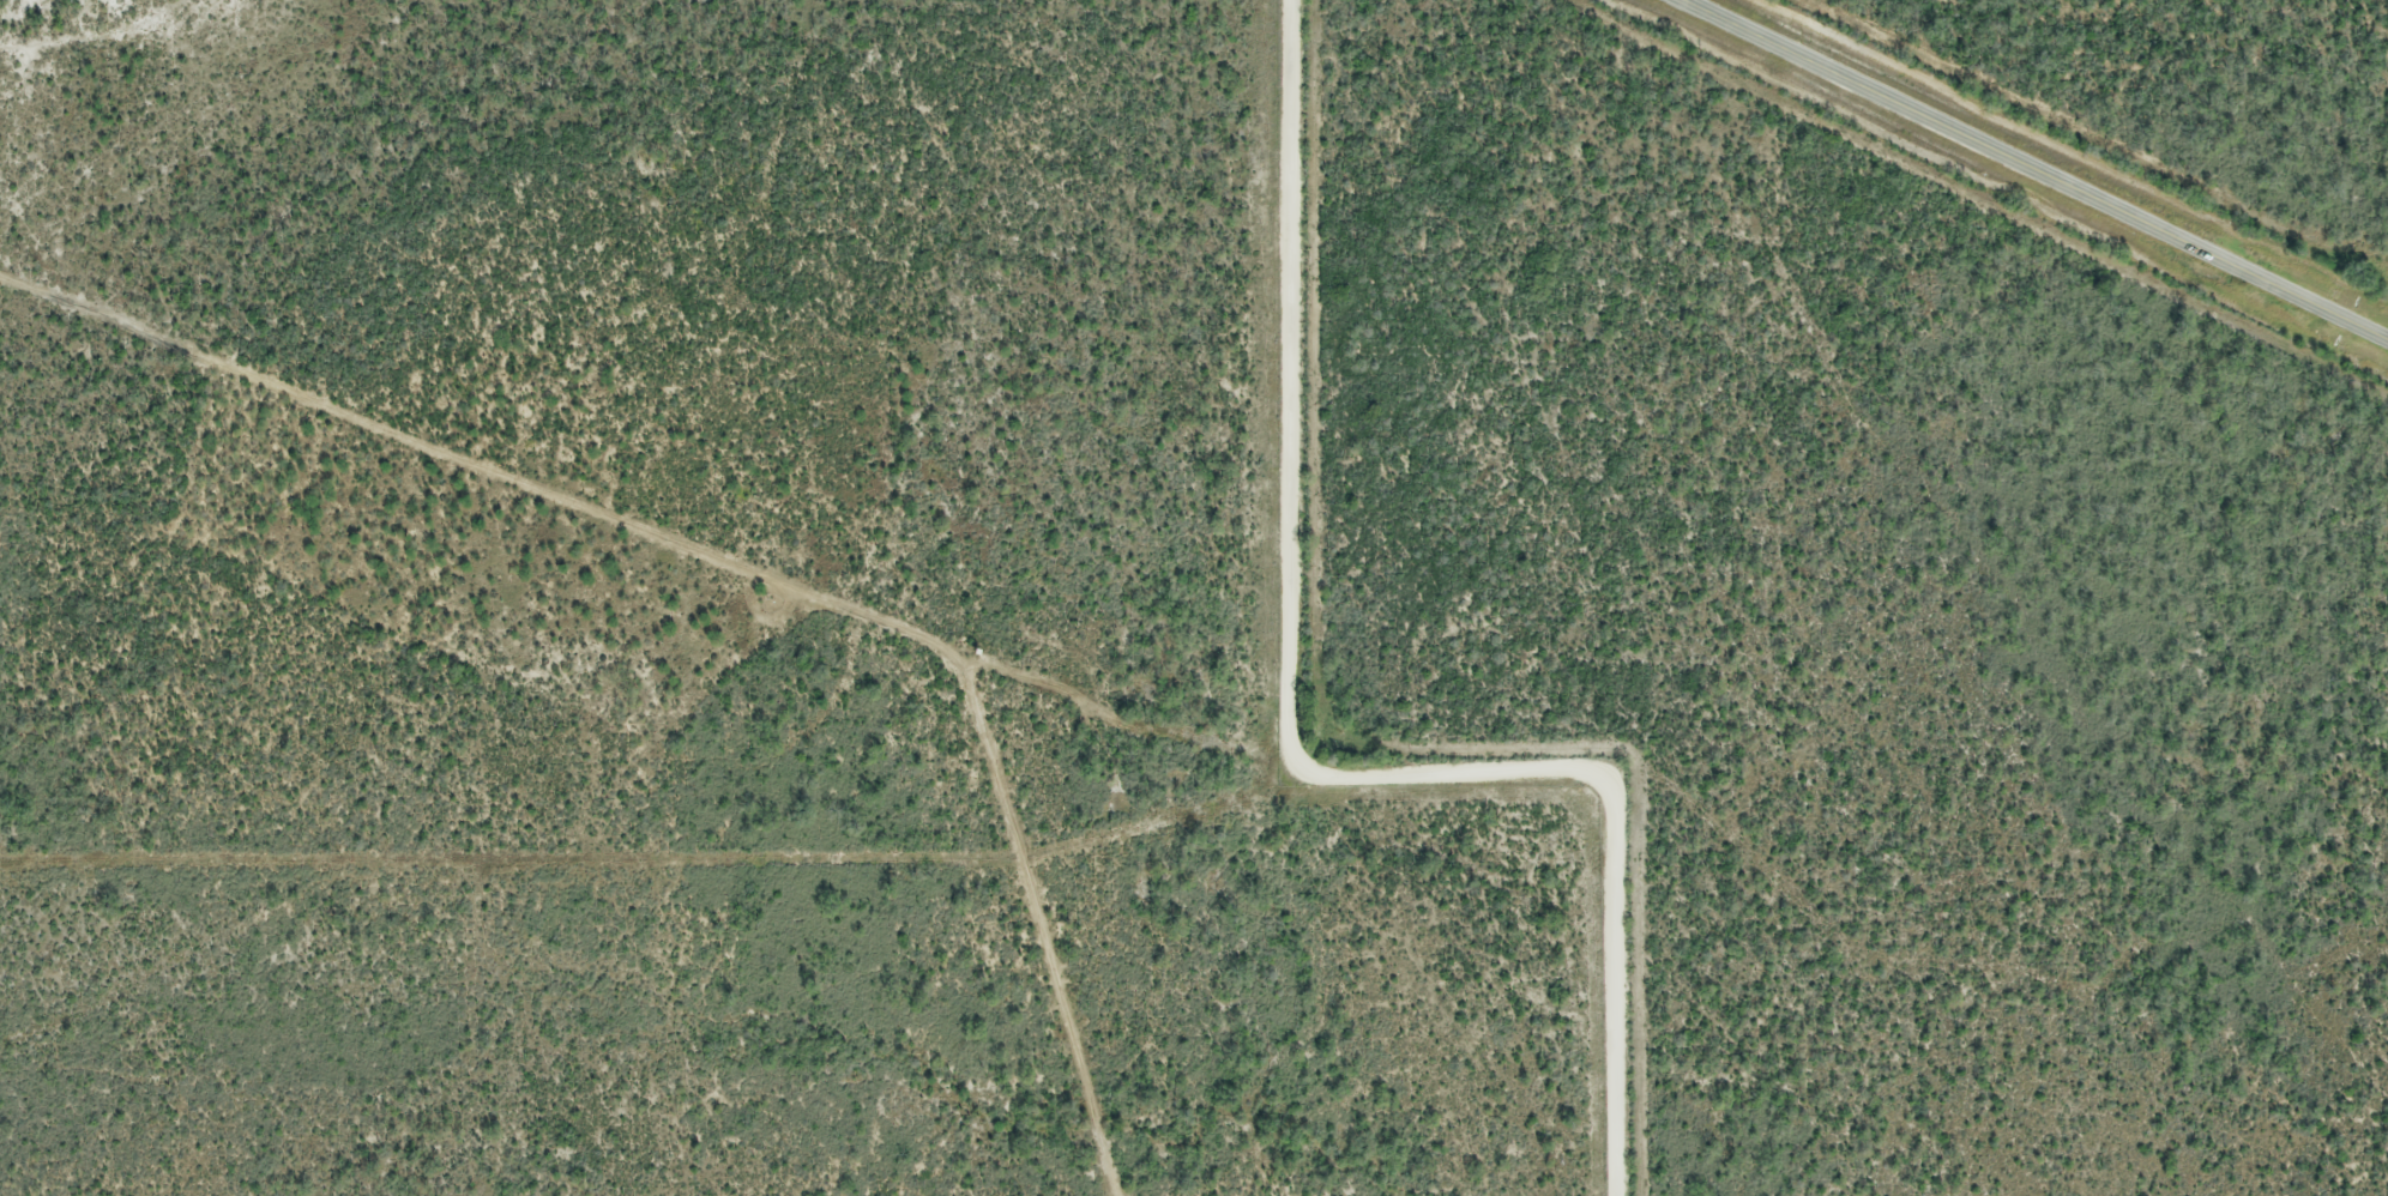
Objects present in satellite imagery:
road: (2040, 165)
road: (1290, 339)
road: (1609, 790)

